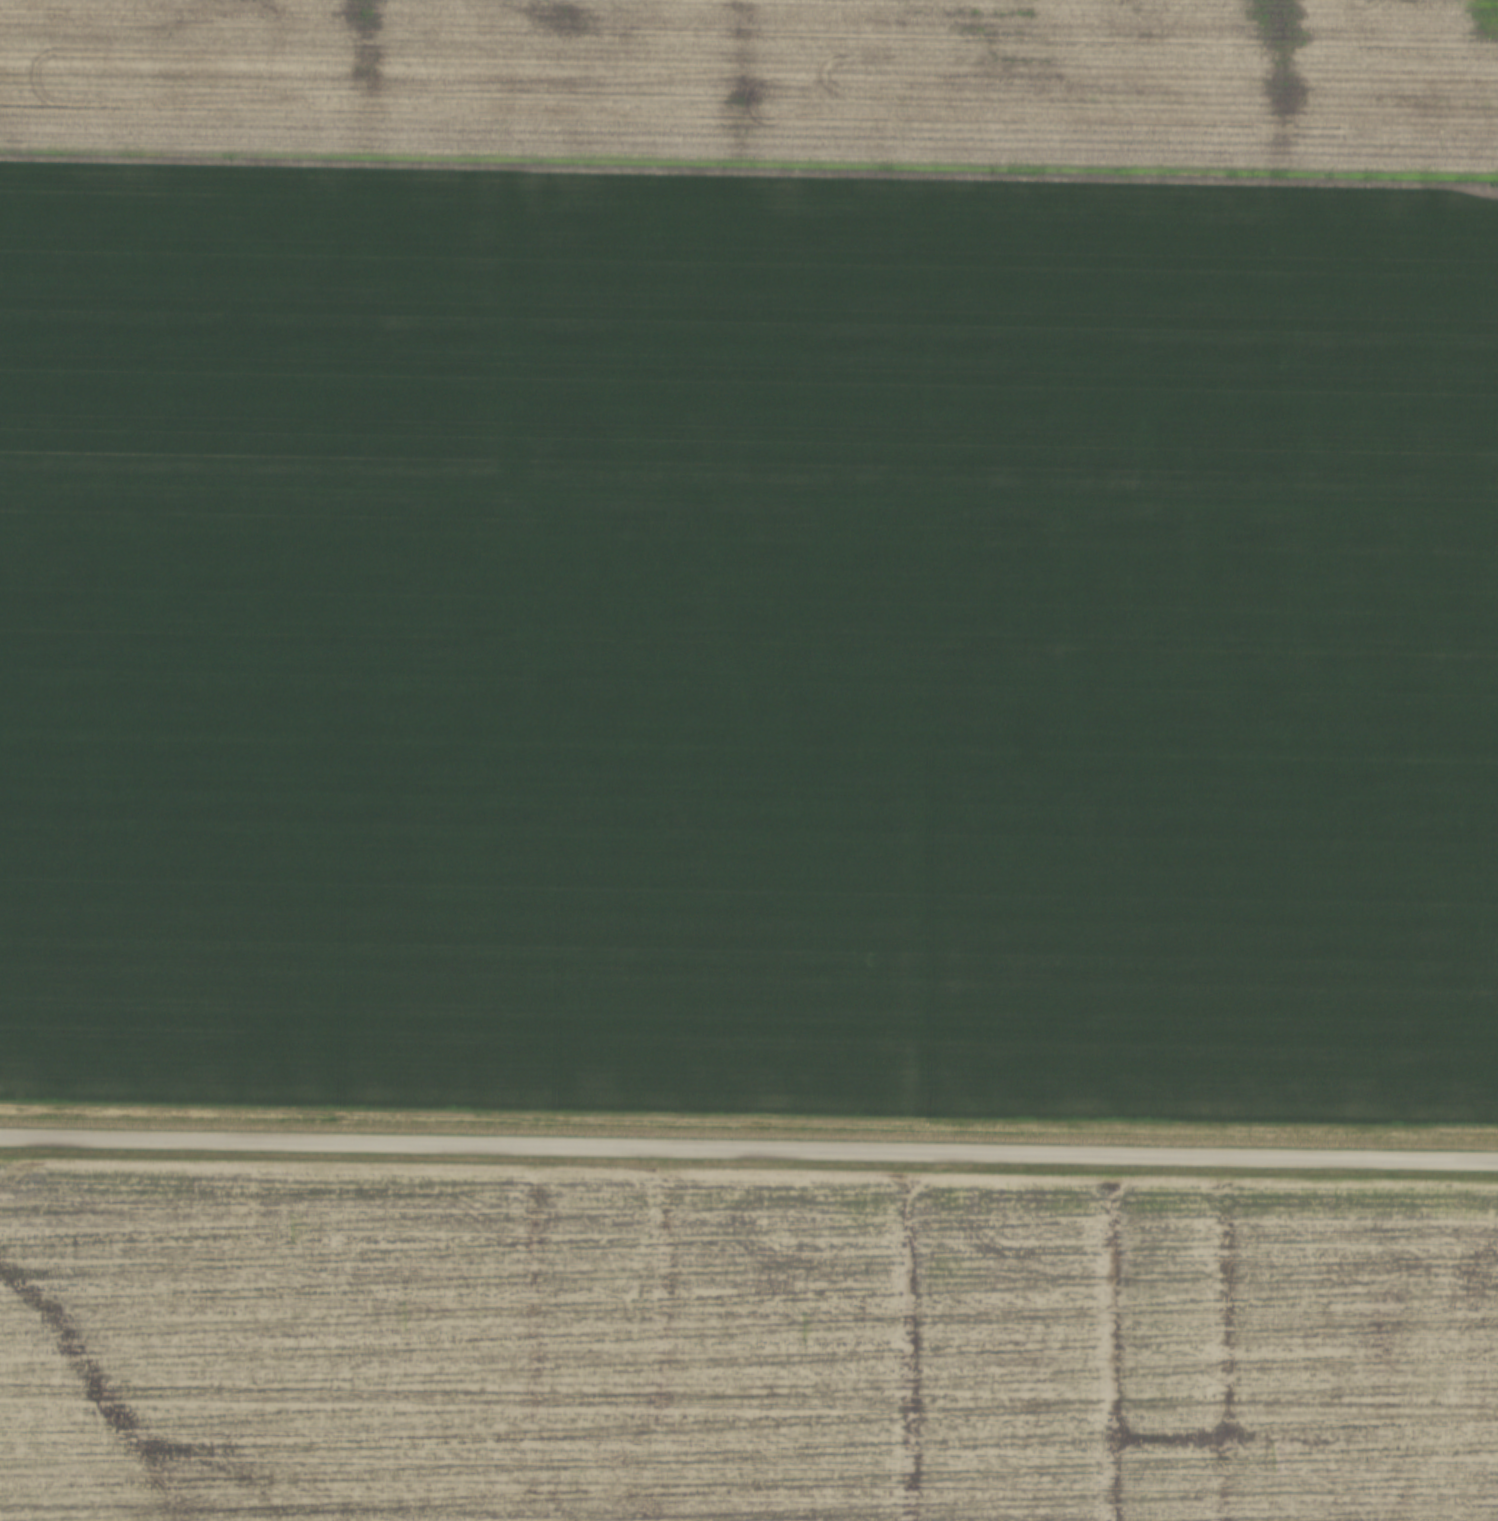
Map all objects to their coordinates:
road: (749, 1150)

